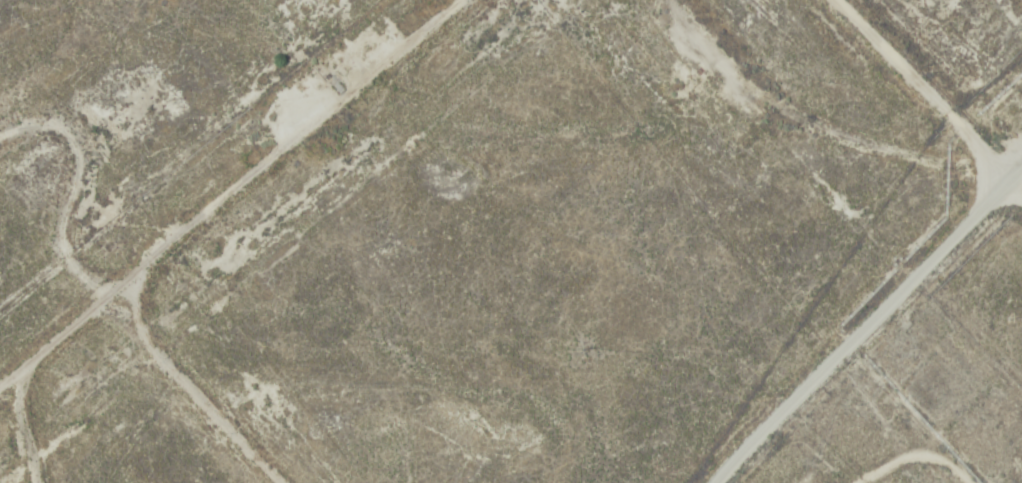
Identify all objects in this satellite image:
road: (946, 83)
road: (191, 211)
road: (859, 314)
road: (212, 405)

